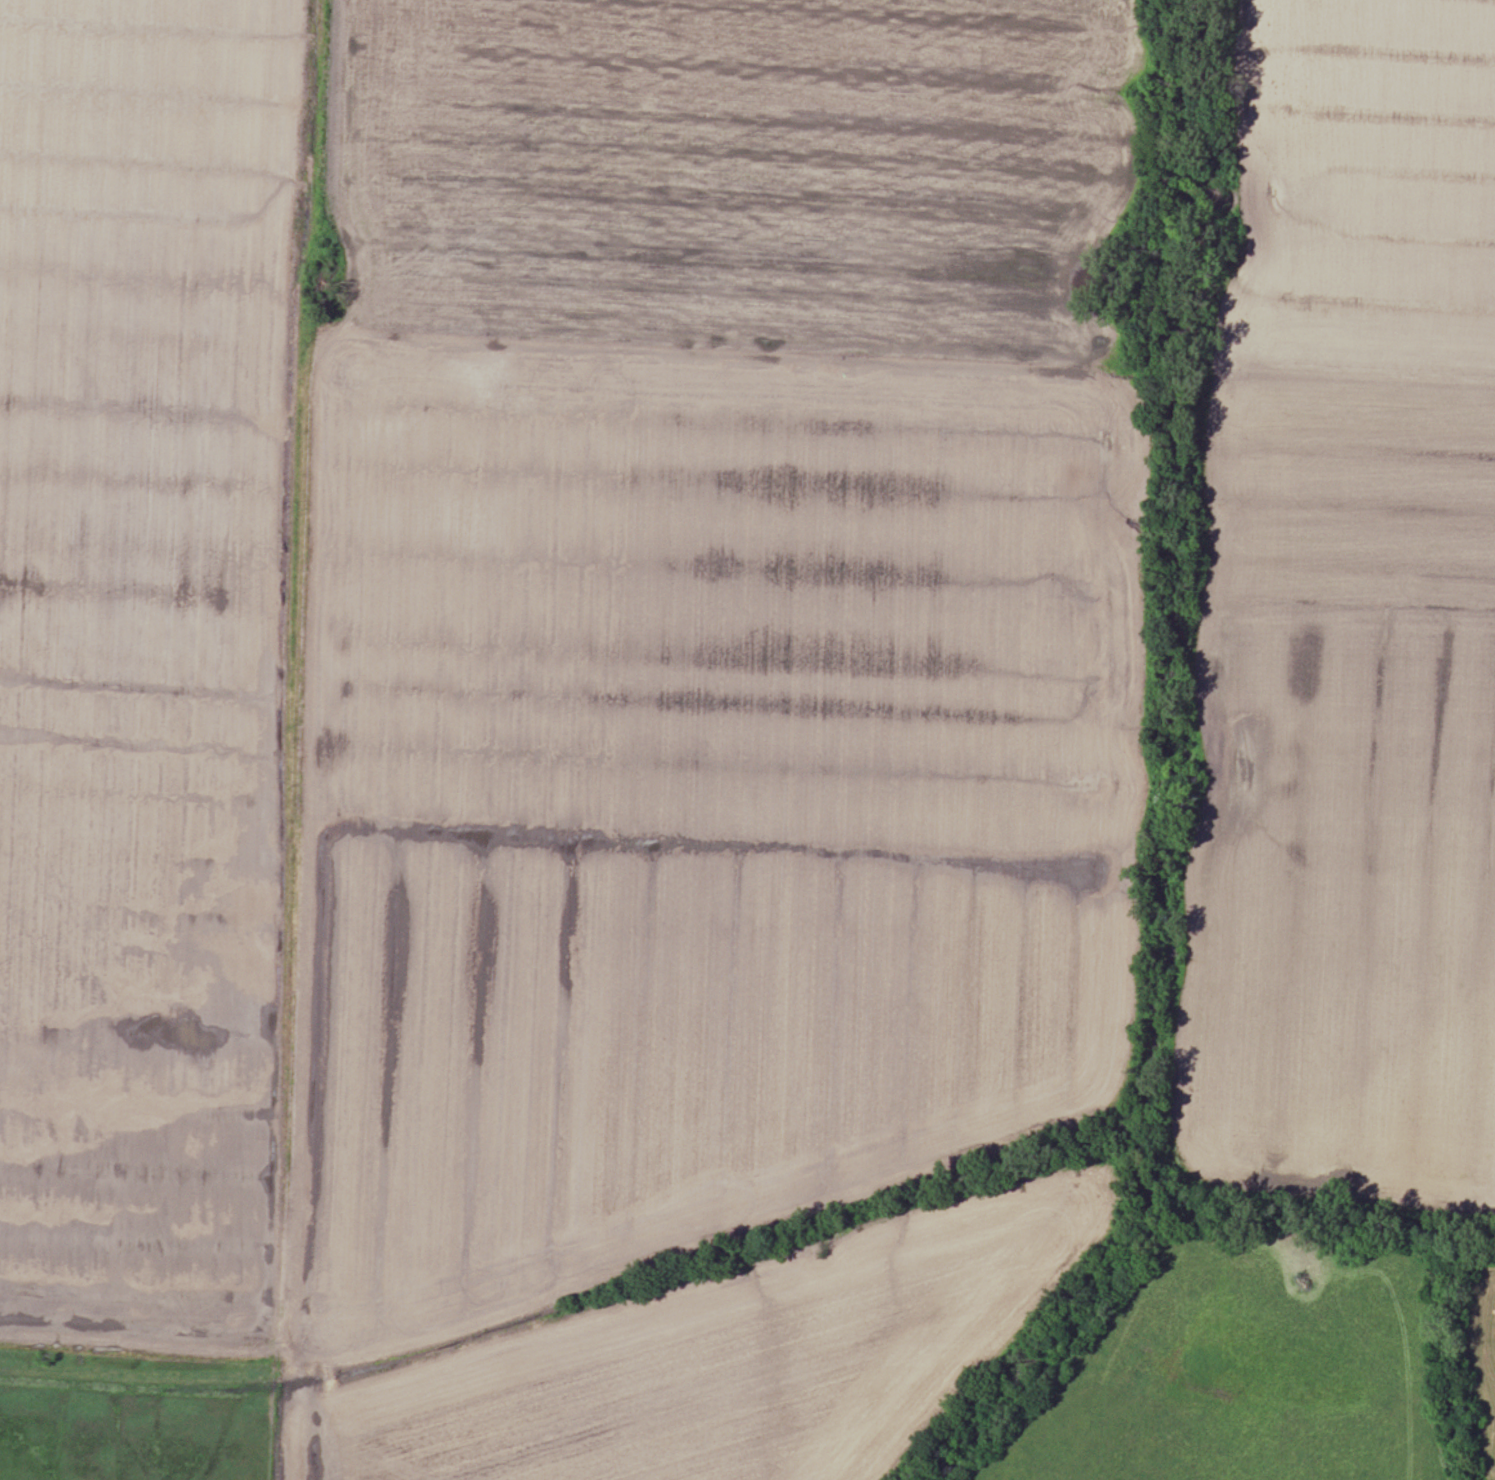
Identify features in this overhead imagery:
crop: (749, 176)
crop: (1343, 624)
crop: (142, 657)
crop: (681, 806)
crop: (715, 1348)

